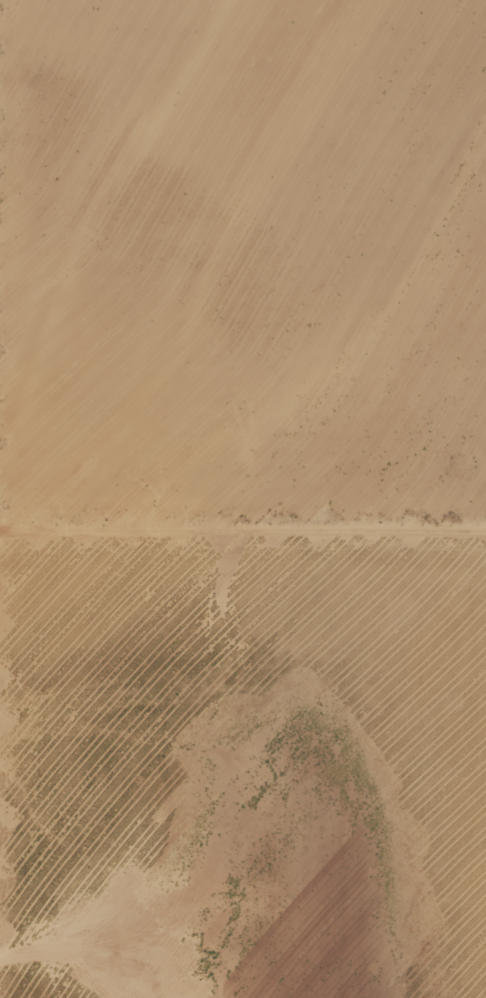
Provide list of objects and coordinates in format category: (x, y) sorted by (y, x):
road: (243, 532)

